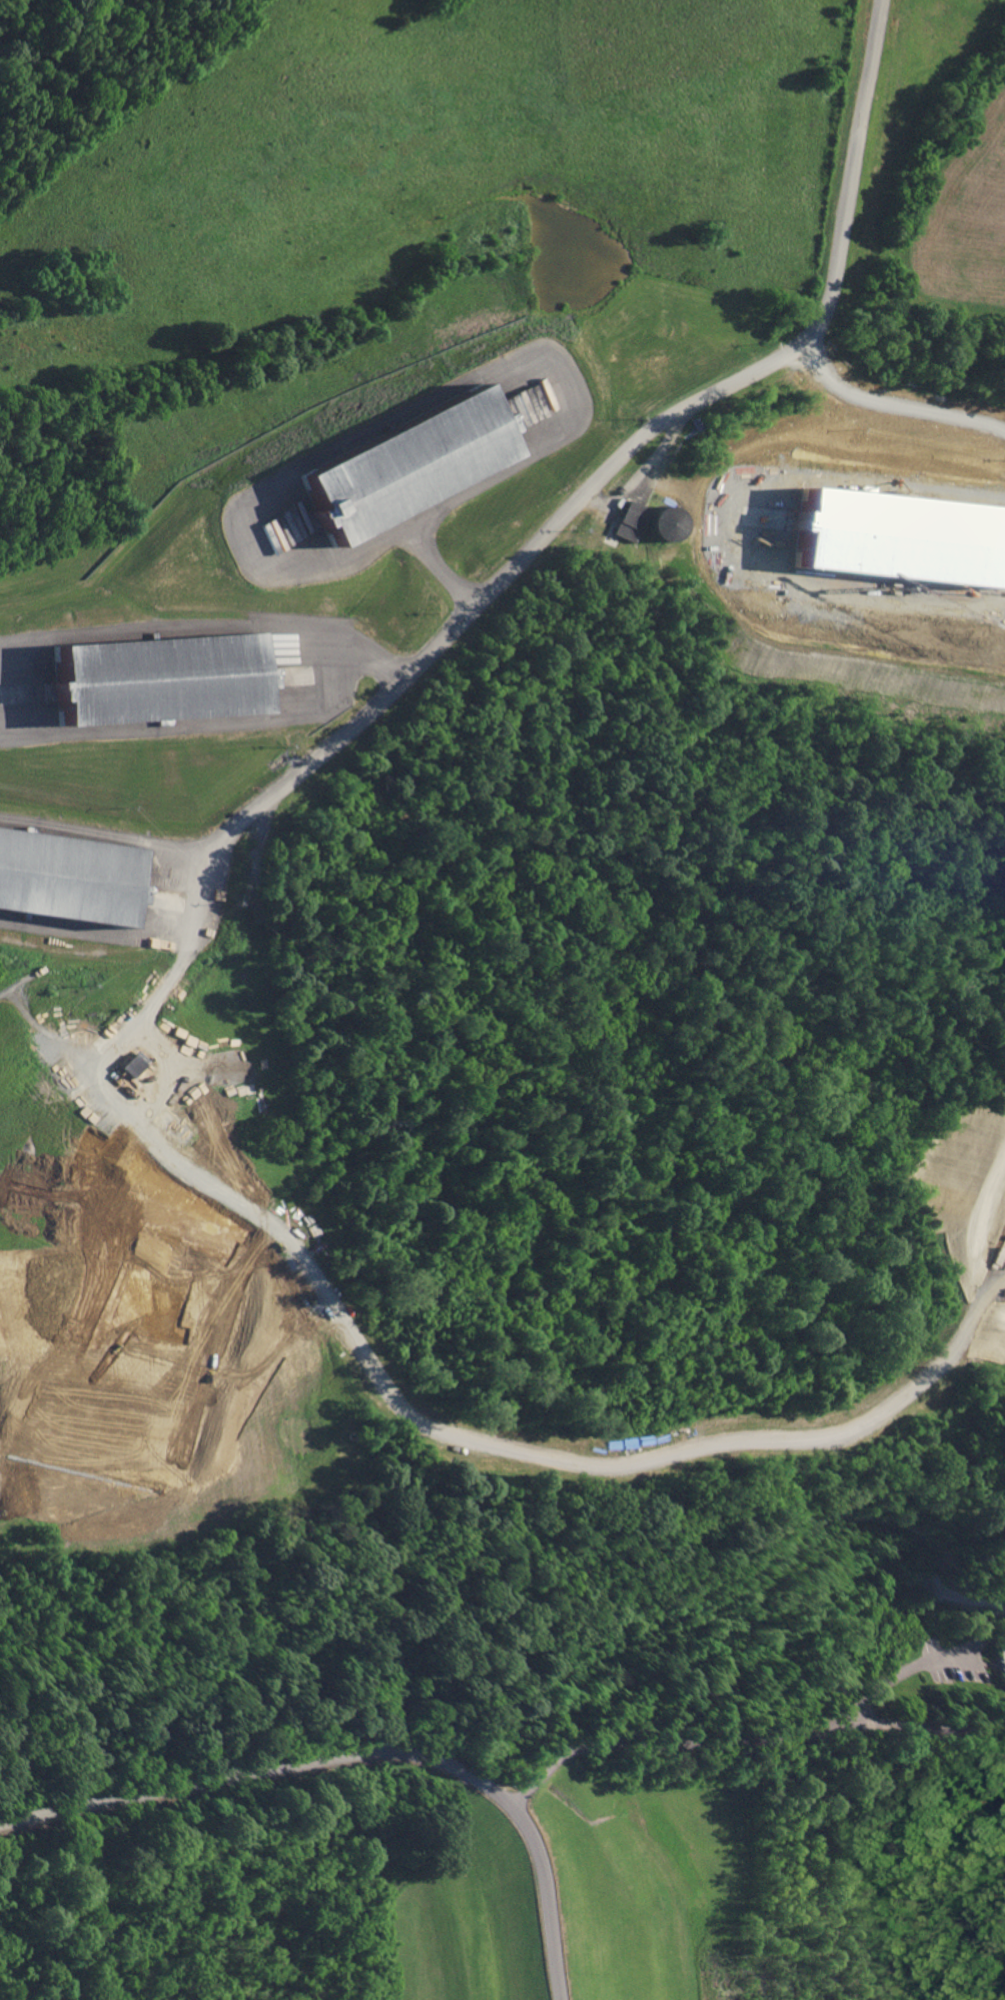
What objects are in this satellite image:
building: (1001, 205)
road: (891, 404)
road: (359, 431)
building: (406, 462)
building: (630, 520)
building: (662, 522)
road: (551, 526)
building: (902, 535)
road: (176, 627)
road: (1, 646)
road: (378, 664)
building: (156, 679)
road: (190, 726)
road: (119, 837)
building: (65, 878)
building: (131, 1063)
road: (164, 1070)
building: (24, 1176)
building: (138, 1338)
road: (580, 1463)
parking lot: (956, 1644)
road: (914, 1673)
parking lot: (977, 1674)
road: (749, 1737)
road: (362, 1752)

